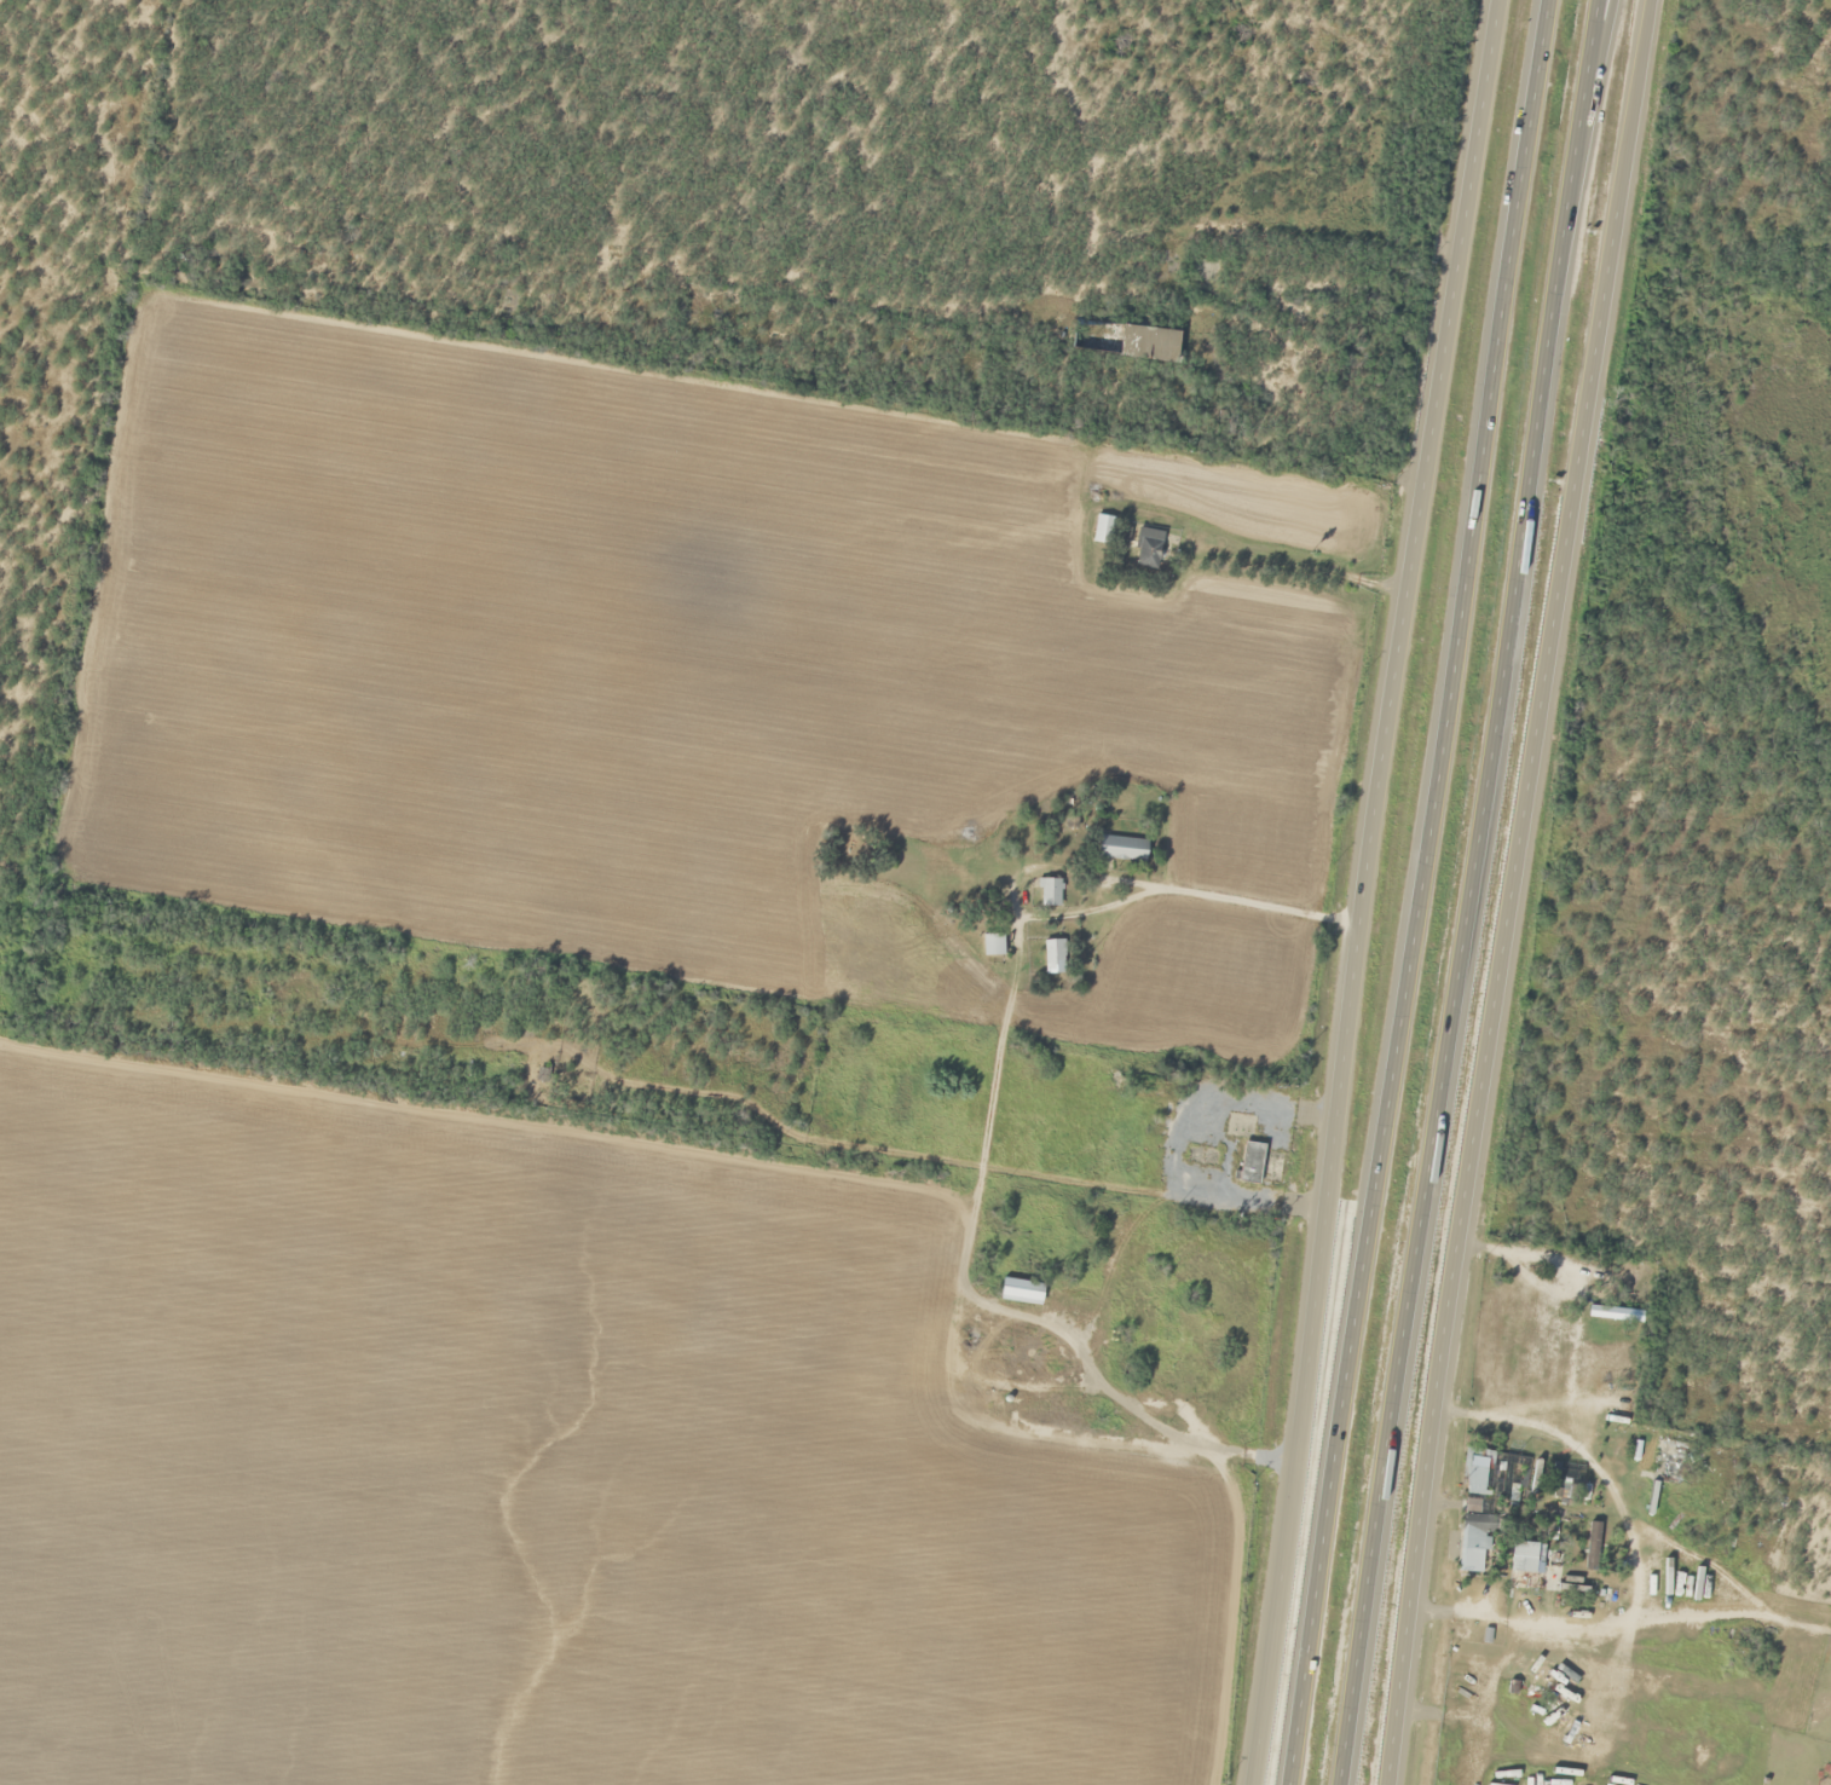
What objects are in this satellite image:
building: (1134, 342)
building: (1146, 549)
building: (1121, 849)
road: (1373, 891)
road: (1504, 891)
building: (1049, 892)
road: (1420, 892)
road: (1468, 892)
building: (1053, 957)
building: (1250, 1163)
building: (1022, 1290)
building: (1615, 1315)
building: (1173, 1353)
building: (1479, 1429)
building: (1480, 1468)
building: (1473, 1543)
building: (1530, 1558)

